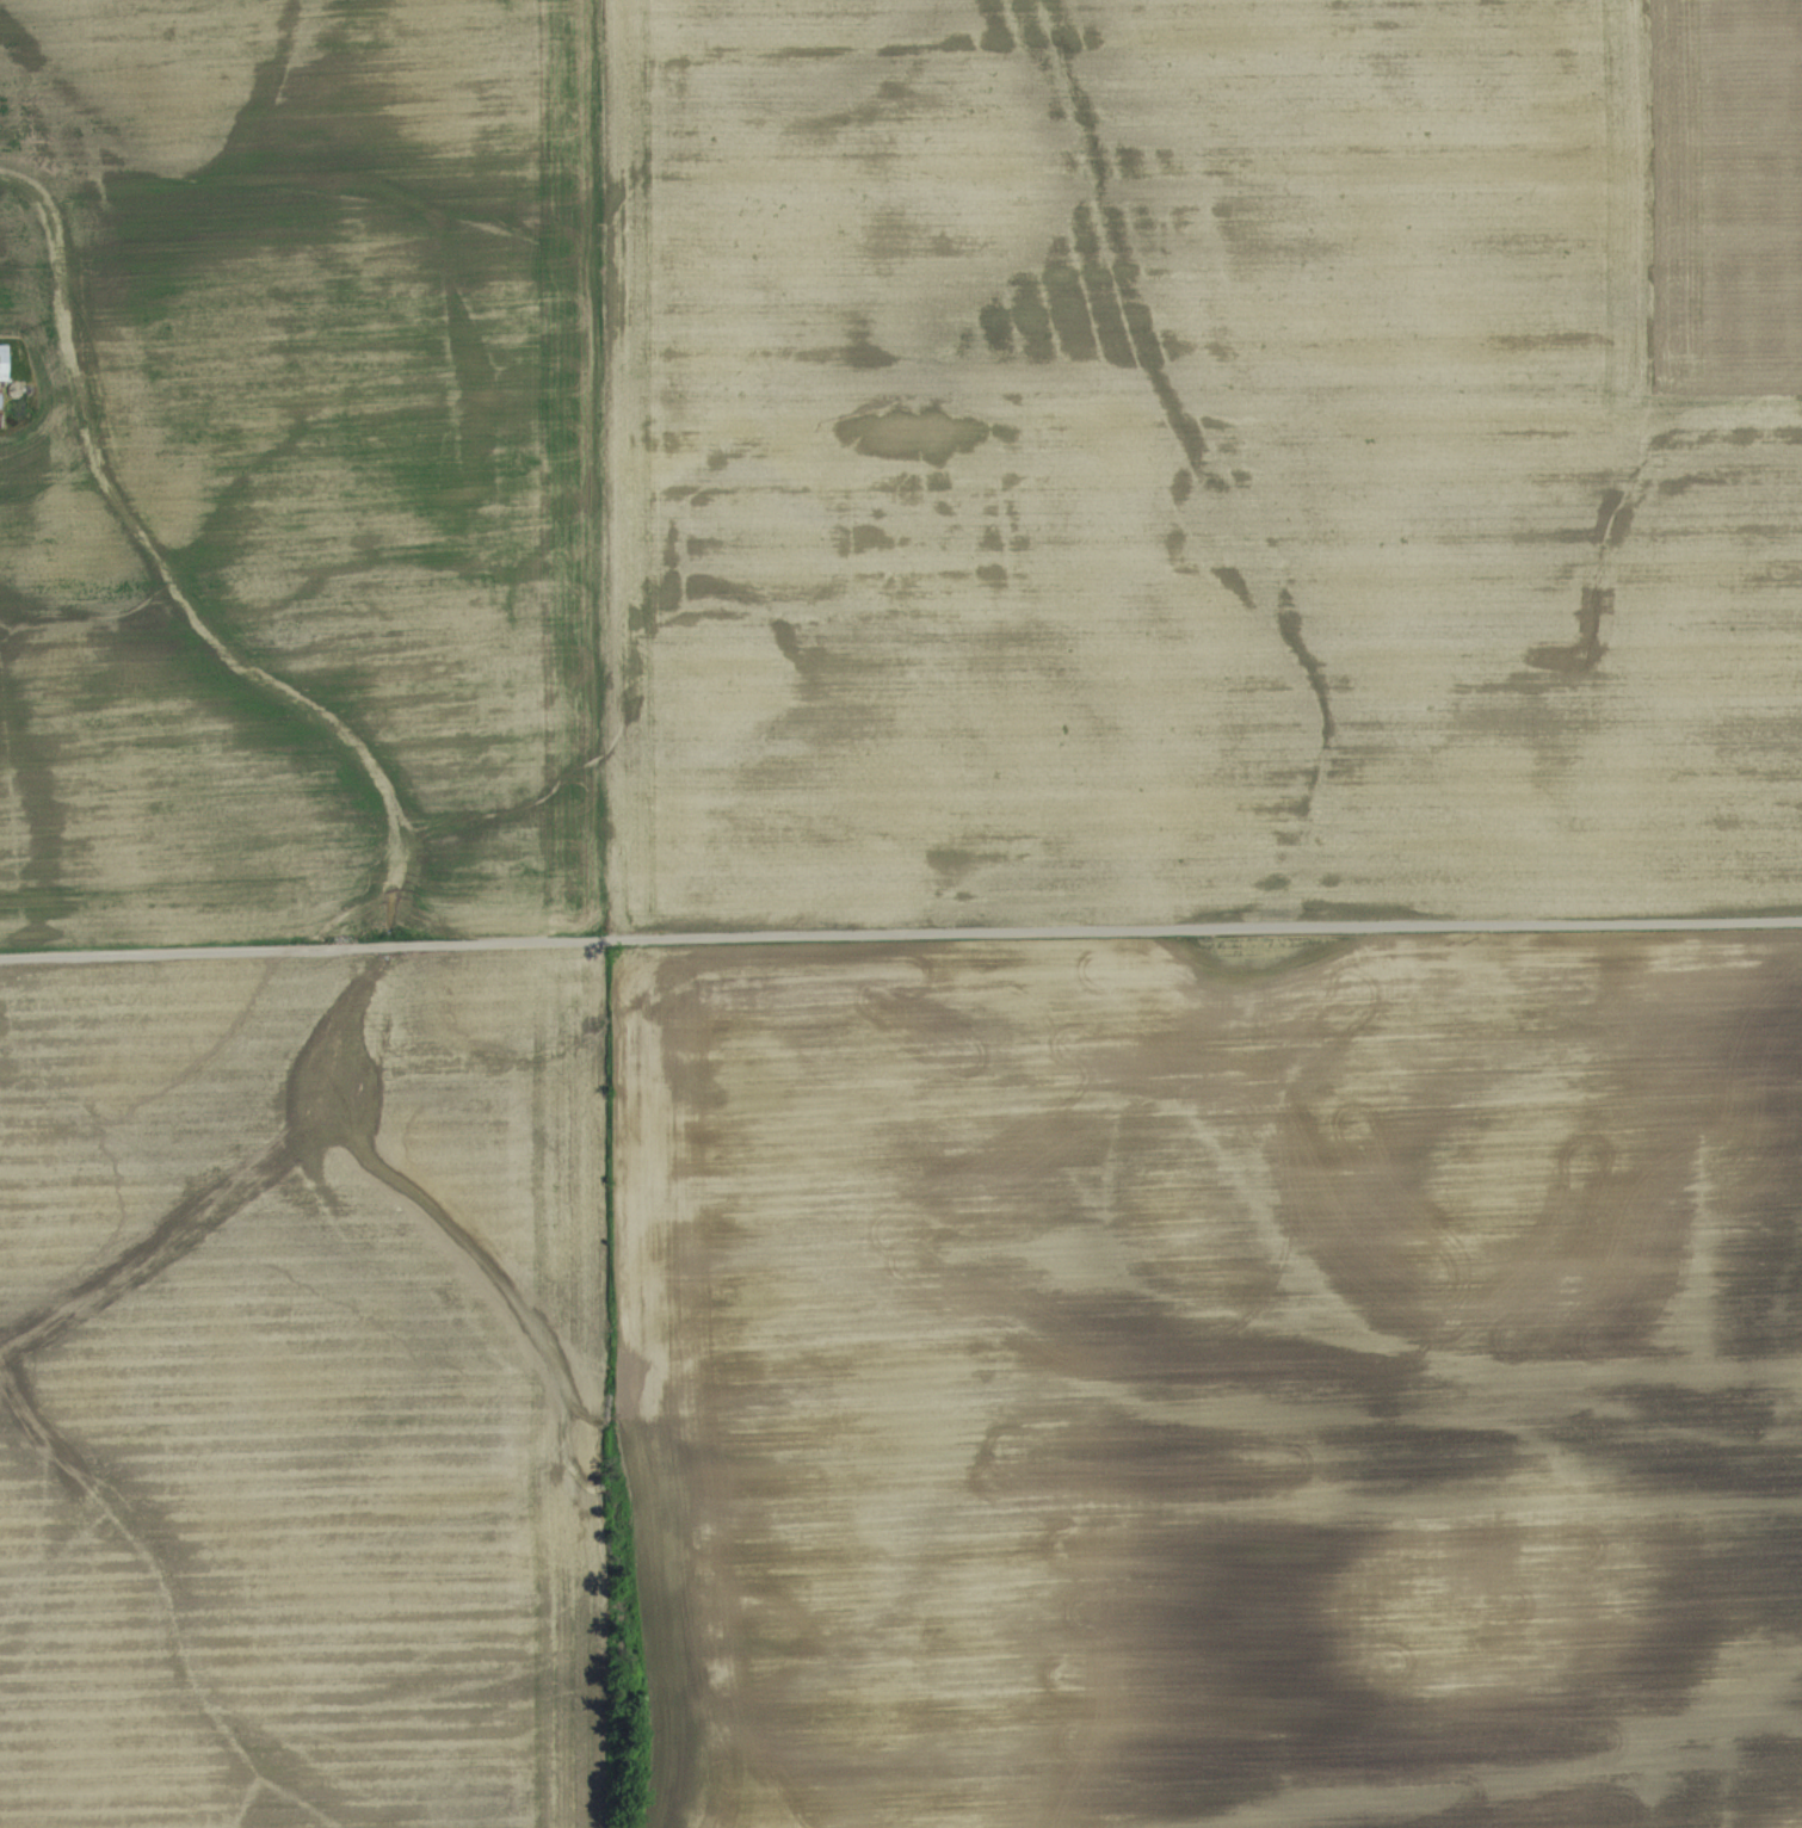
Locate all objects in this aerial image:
building: (6, 362)
building: (1, 400)
road: (900, 930)

